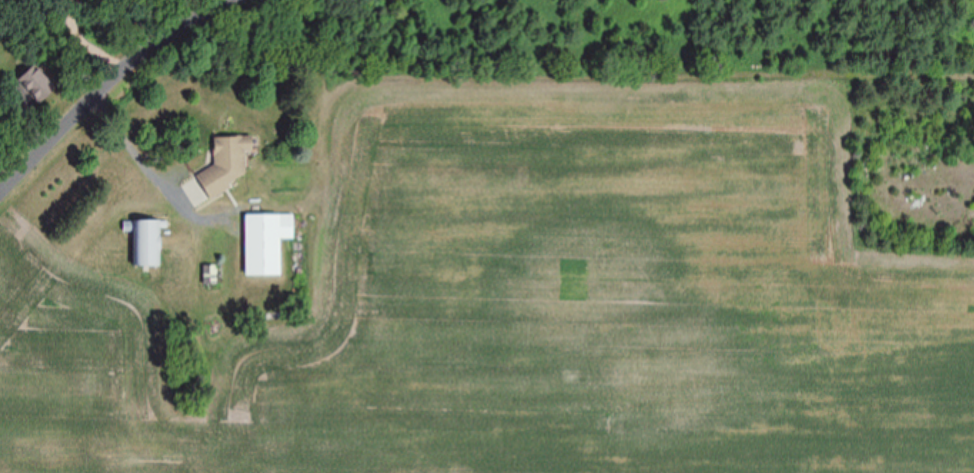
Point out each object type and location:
road: (104, 78)
building: (230, 164)
building: (148, 241)
building: (268, 242)
crop: (532, 287)

